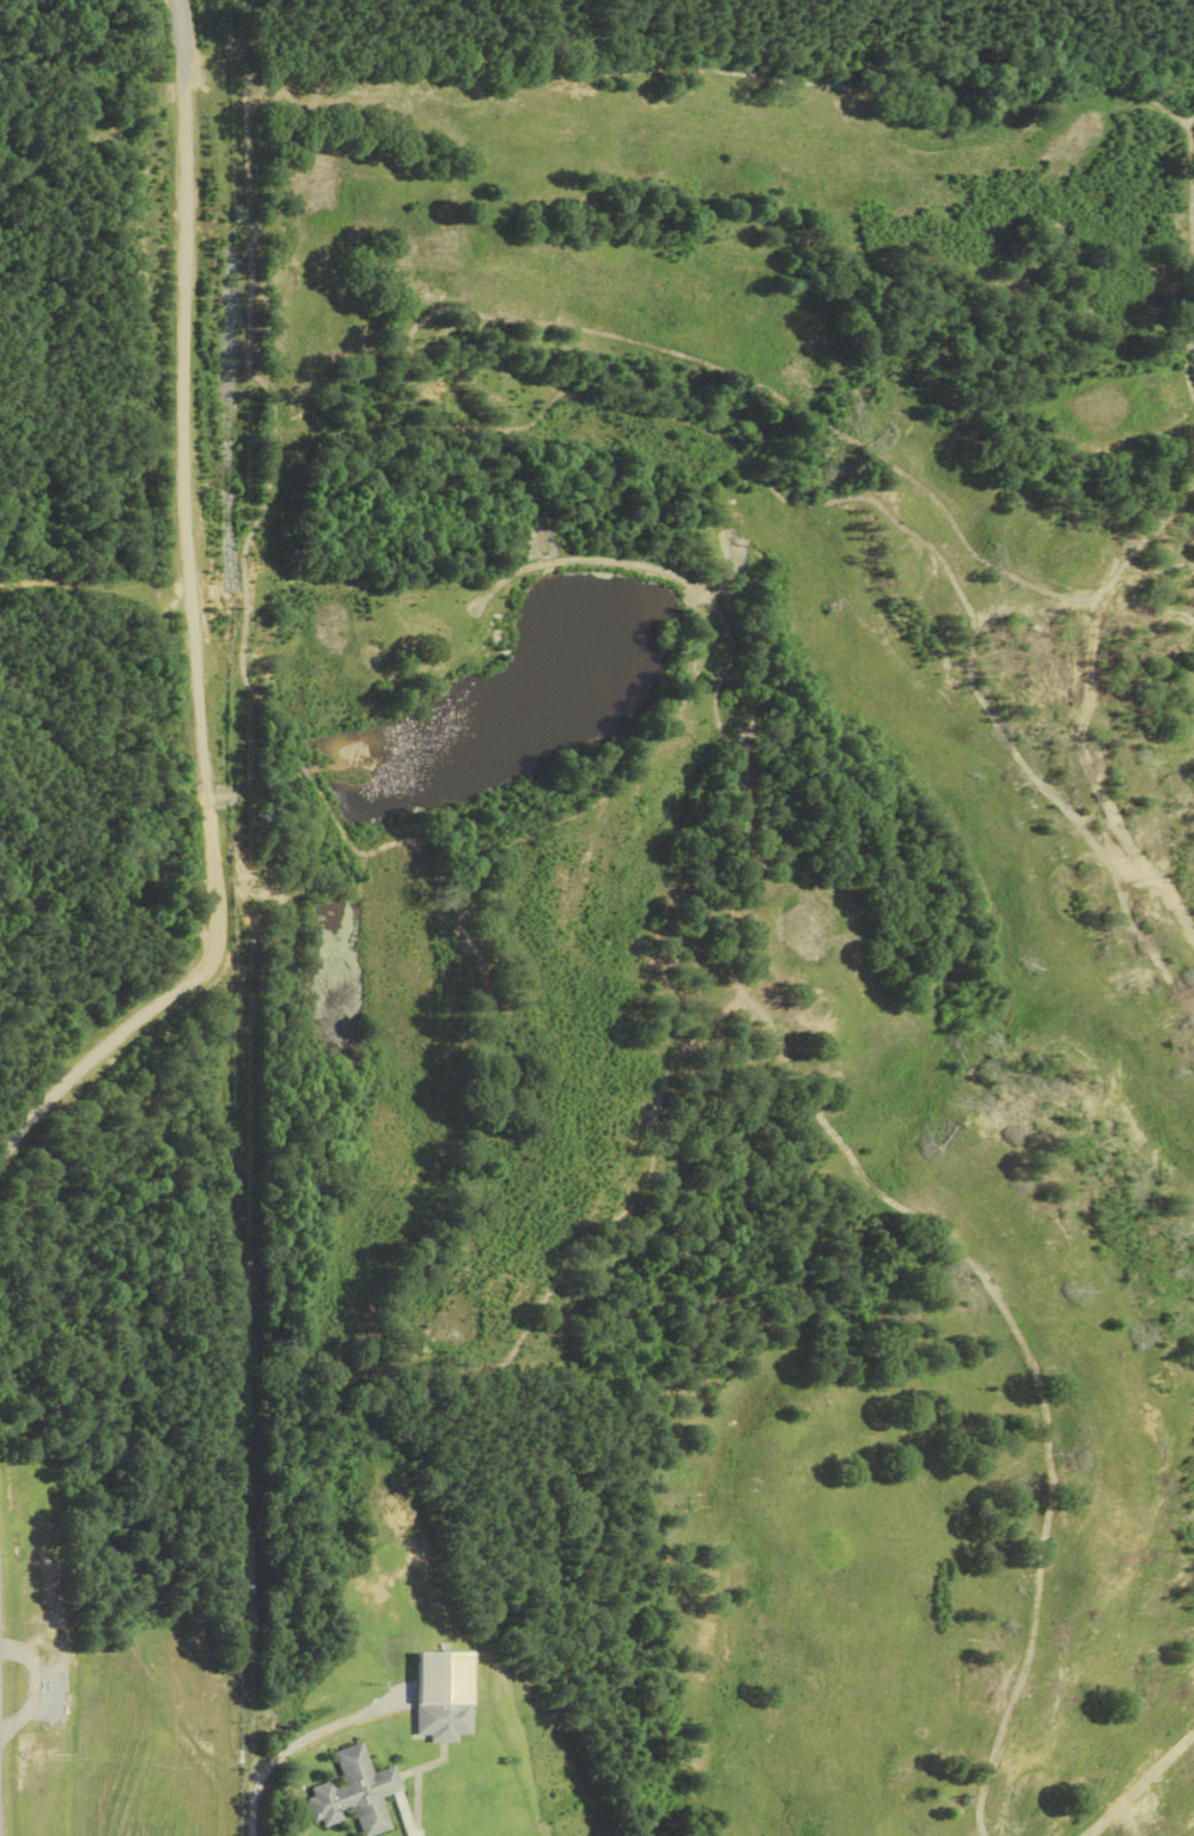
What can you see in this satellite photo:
building: (662, 1355)
building: (444, 1695)
building: (357, 1793)

